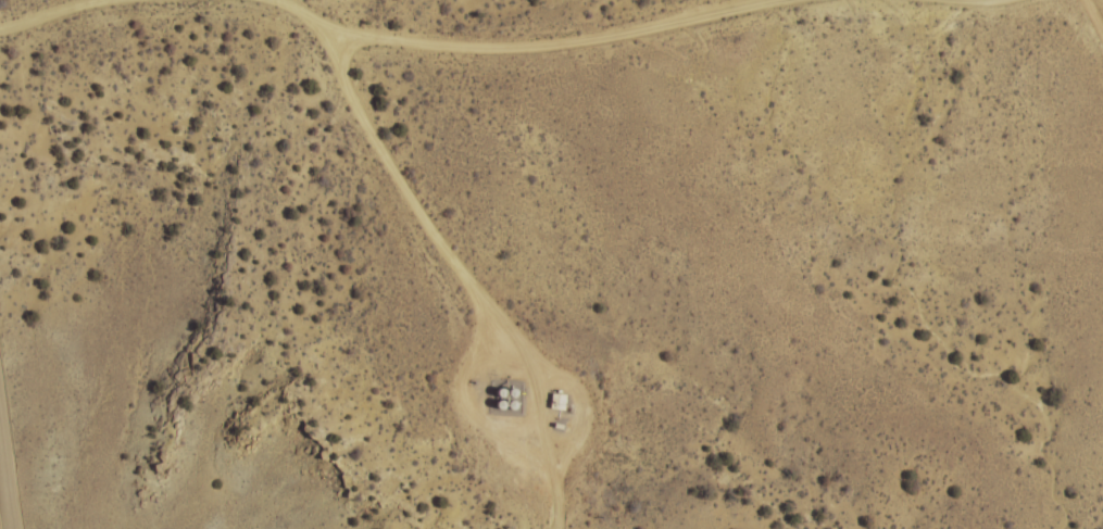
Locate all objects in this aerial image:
road: (40, 13)
road: (519, 42)
road: (468, 272)

